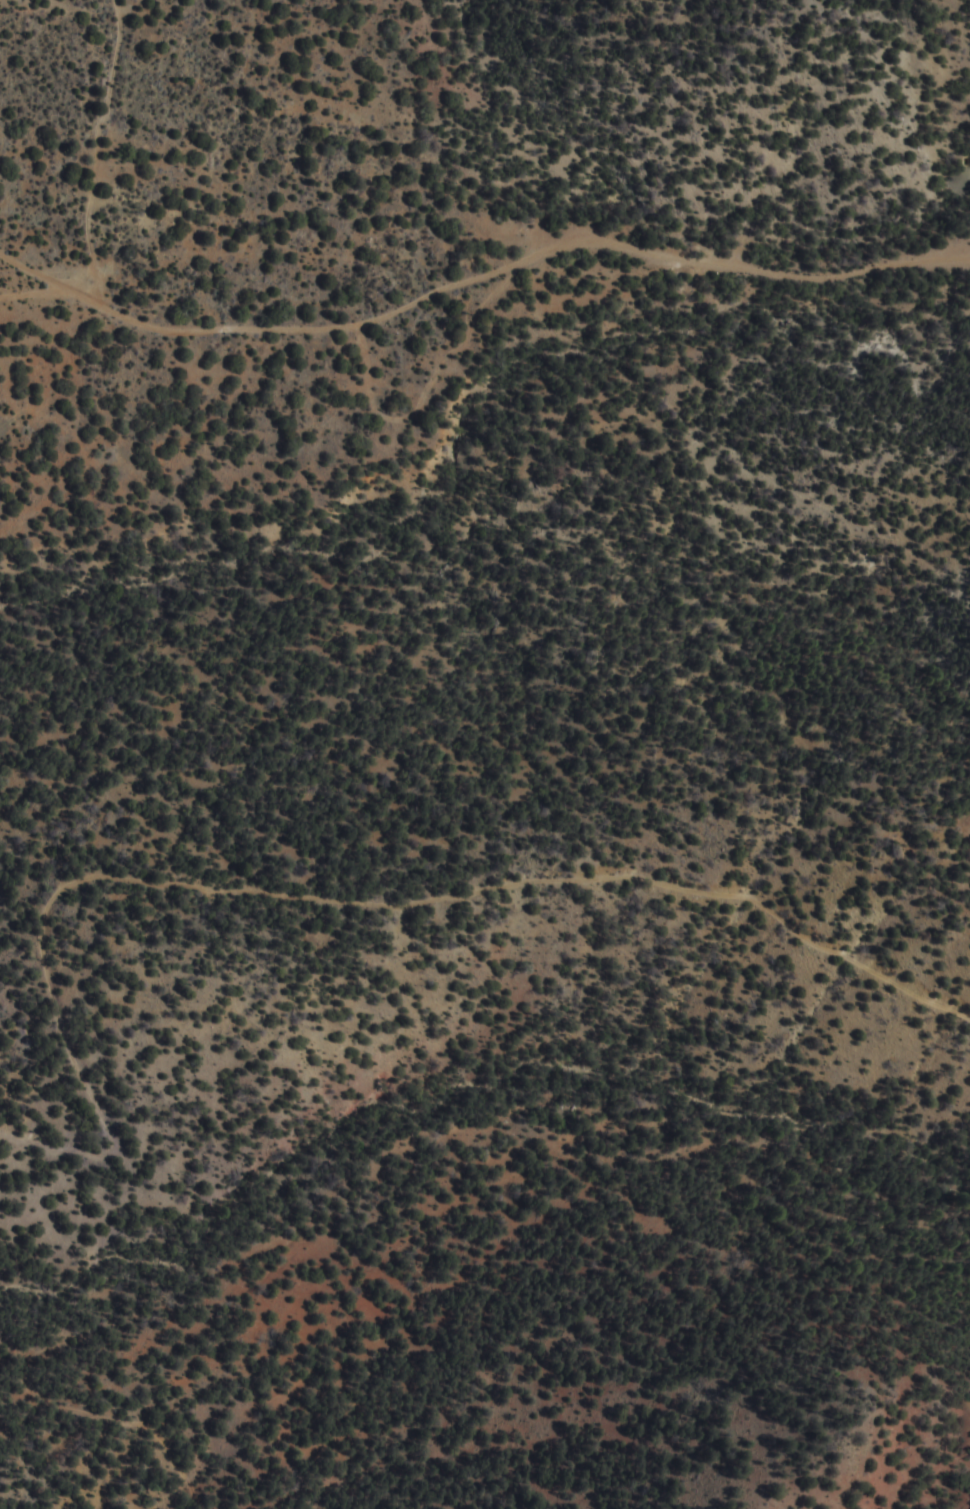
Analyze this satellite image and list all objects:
road: (91, 149)
road: (477, 280)
road: (245, 893)

